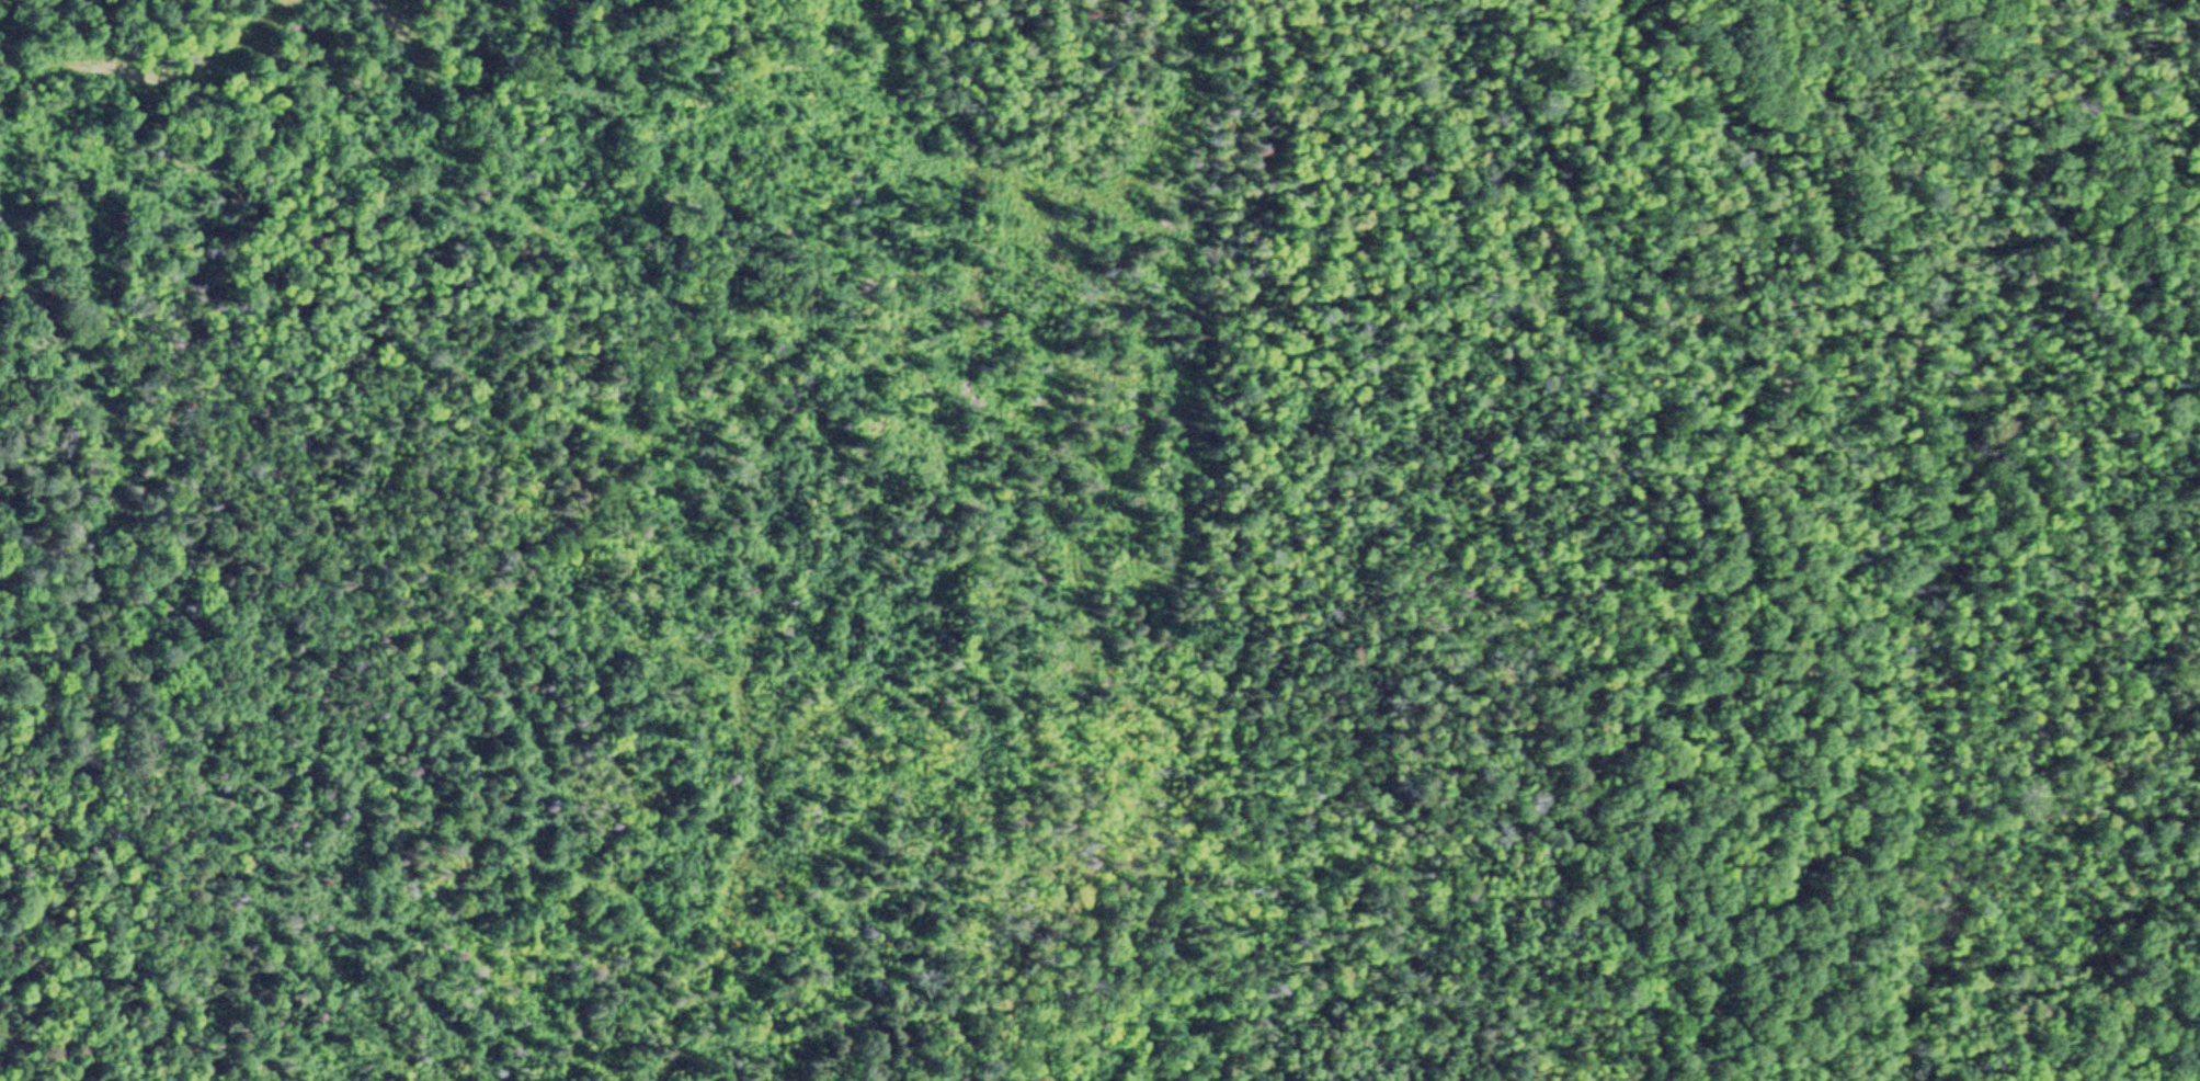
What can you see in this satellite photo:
road: (708, 961)

